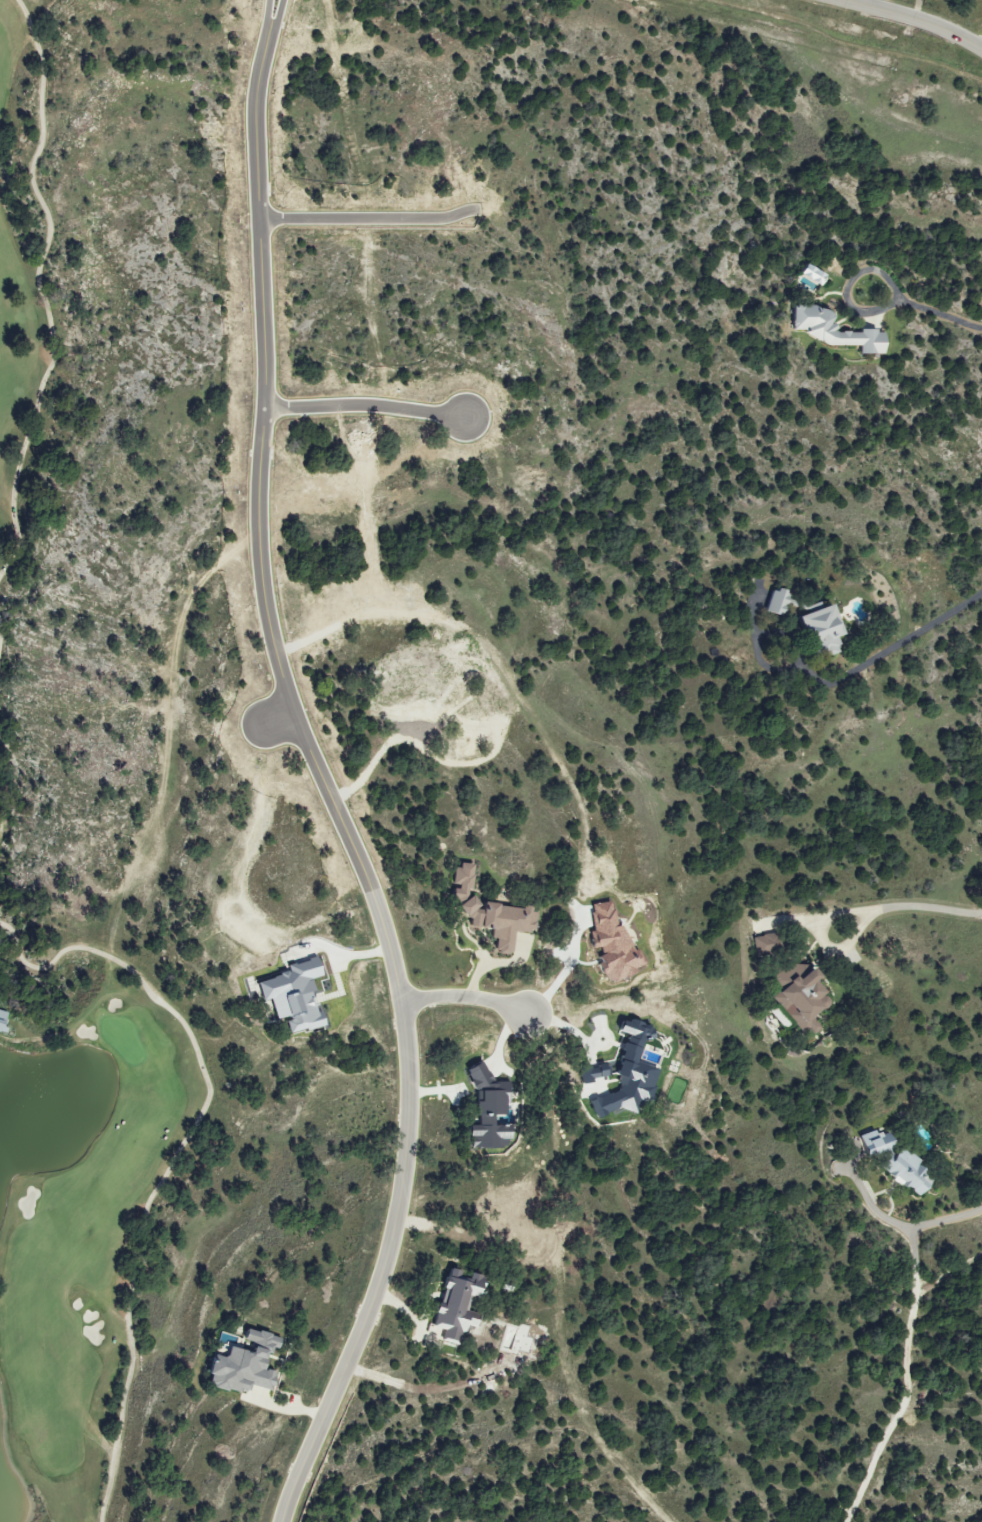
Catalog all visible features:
road: (913, 21)
road: (835, 42)
building: (811, 274)
road: (847, 286)
road: (942, 314)
building: (828, 329)
building: (772, 601)
building: (816, 631)
road: (894, 644)
road: (925, 902)
building: (486, 912)
road: (826, 934)
building: (608, 943)
building: (763, 943)
building: (796, 994)
building: (289, 996)
road: (468, 997)
building: (4, 1020)
building: (590, 1073)
building: (625, 1073)
road: (413, 1105)
building: (485, 1110)
building: (871, 1142)
building: (903, 1171)
road: (919, 1220)
building: (454, 1302)
building: (241, 1364)

